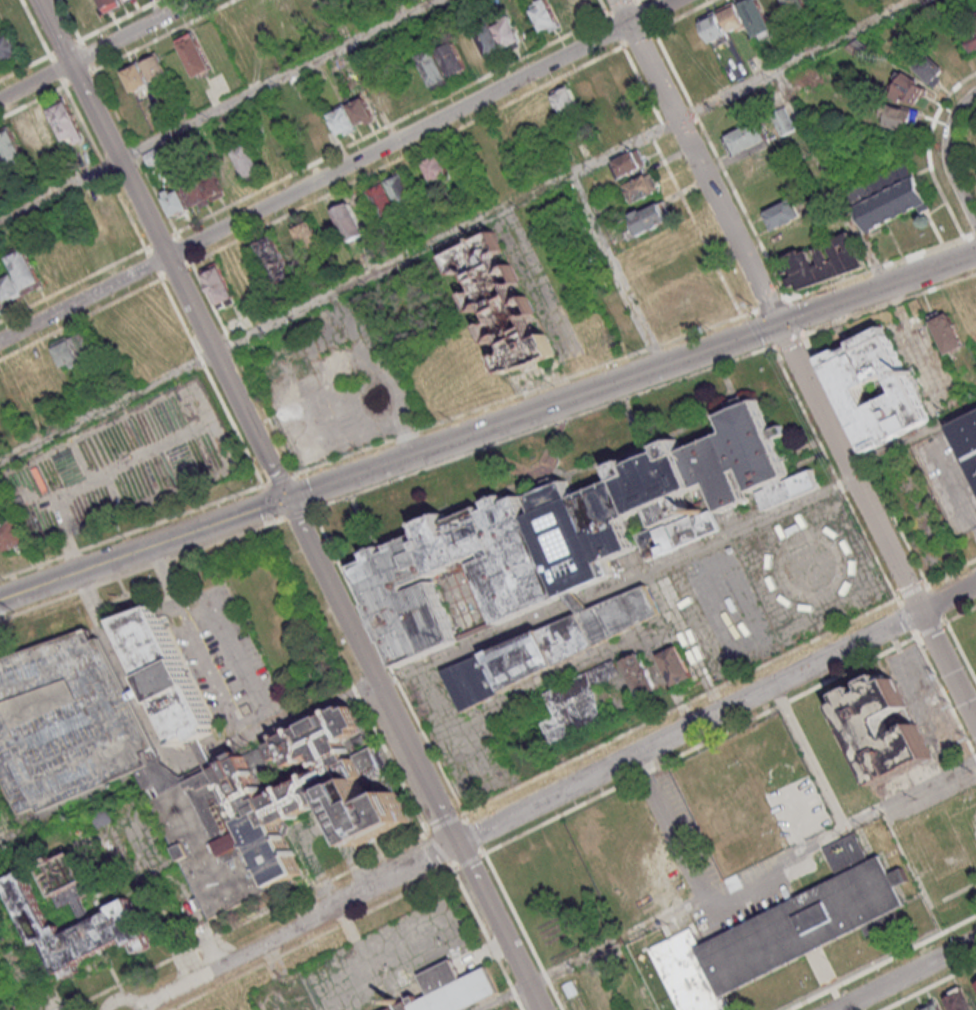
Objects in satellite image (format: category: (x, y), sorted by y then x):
building: (126, 0)
building: (90, 7)
building: (795, 7)
building: (565, 11)
road: (685, 15)
building: (545, 16)
building: (730, 16)
building: (753, 16)
building: (247, 28)
building: (713, 28)
building: (21, 29)
building: (971, 33)
building: (8, 48)
building: (468, 50)
road: (101, 51)
building: (194, 54)
building: (941, 58)
building: (155, 66)
building: (135, 76)
building: (601, 82)
building: (908, 89)
building: (565, 99)
building: (380, 100)
road: (216, 108)
building: (351, 116)
building: (897, 117)
building: (782, 121)
building: (67, 123)
building: (314, 127)
building: (745, 137)
building: (20, 141)
park: (966, 153)
building: (0, 158)
road: (945, 158)
building: (247, 160)
building: (628, 162)
road: (696, 162)
building: (752, 164)
road: (722, 165)
building: (435, 167)
road: (336, 170)
road: (831, 178)
building: (640, 187)
building: (205, 192)
building: (392, 196)
building: (889, 198)
building: (174, 201)
building: (602, 208)
building: (782, 213)
building: (649, 217)
building: (348, 221)
road: (459, 232)
building: (307, 234)
road: (162, 249)
building: (278, 252)
building: (821, 262)
building: (680, 265)
road: (882, 266)
building: (24, 269)
road: (614, 271)
parking lot: (536, 284)
building: (217, 285)
building: (9, 287)
building: (1, 303)
building: (500, 303)
road: (889, 305)
building: (615, 310)
traffic signals: (777, 324)
building: (234, 325)
building: (947, 333)
building: (77, 348)
road: (605, 357)
road: (631, 376)
building: (854, 383)
building: (1, 394)
road: (816, 403)
road: (912, 437)
building: (967, 439)
crop: (121, 467)
road: (835, 473)
road: (876, 483)
road: (954, 488)
building: (664, 494)
traffic signals: (286, 499)
building: (12, 534)
road: (718, 538)
road: (143, 549)
building: (522, 582)
road: (912, 592)
road: (916, 600)
building: (579, 601)
road: (580, 603)
road: (938, 603)
road: (962, 614)
road: (906, 619)
road: (105, 624)
road: (932, 630)
road: (687, 642)
road: (235, 643)
road: (476, 646)
building: (551, 647)
road: (962, 650)
parking lot: (221, 656)
road: (205, 658)
building: (679, 669)
building: (166, 675)
building: (642, 678)
road: (946, 697)
road: (325, 703)
building: (578, 703)
road: (680, 707)
building: (68, 725)
parking garage: (68, 725)
building: (882, 730)
road: (700, 746)
road: (409, 756)
road: (558, 796)
building: (275, 814)
building: (101, 819)
road: (841, 823)
road: (673, 826)
road: (7, 832)
road: (475, 834)
road: (469, 862)
road: (775, 874)
building: (121, 926)
building: (777, 930)
road: (524, 932)
road: (488, 939)
road: (596, 954)
road: (882, 963)
road: (906, 976)
building: (975, 984)
road: (931, 987)
building: (449, 988)
building: (958, 1000)
building: (930, 1006)

